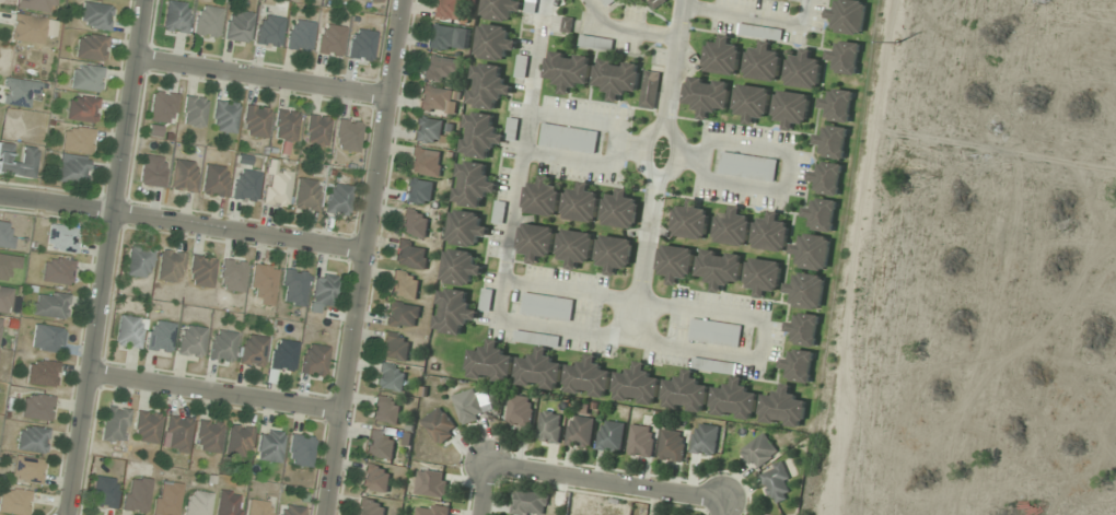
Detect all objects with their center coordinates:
building: (112, 0)
building: (373, 0)
building: (607, 2)
building: (36, 4)
building: (531, 5)
building: (501, 9)
building: (447, 10)
road: (752, 15)
building: (94, 16)
building: (849, 16)
building: (175, 17)
building: (206, 22)
building: (236, 26)
building: (31, 28)
road: (626, 28)
building: (267, 31)
building: (299, 36)
building: (446, 38)
building: (329, 40)
building: (495, 42)
building: (596, 43)
building: (360, 45)
building: (90, 47)
building: (763, 52)
building: (722, 57)
building: (846, 57)
road: (672, 63)
building: (522, 67)
building: (440, 69)
building: (569, 70)
building: (804, 70)
road: (259, 77)
building: (85, 78)
building: (617, 78)
building: (489, 85)
building: (651, 89)
building: (708, 95)
building: (434, 100)
building: (752, 102)
building: (838, 105)
building: (161, 107)
building: (791, 108)
building: (80, 109)
building: (193, 112)
building: (223, 117)
building: (254, 121)
building: (283, 126)
building: (427, 130)
building: (315, 131)
building: (486, 134)
building: (346, 136)
building: (569, 138)
building: (77, 140)
building: (833, 142)
road: (619, 147)
road: (633, 147)
road: (682, 154)
road: (523, 157)
building: (16, 162)
building: (425, 162)
building: (747, 166)
building: (71, 169)
building: (151, 172)
road: (788, 173)
building: (183, 176)
building: (827, 178)
road: (655, 179)
building: (212, 180)
building: (473, 184)
building: (244, 186)
building: (275, 187)
building: (418, 191)
building: (305, 196)
building: (543, 198)
building: (336, 200)
building: (582, 204)
building: (620, 210)
building: (500, 212)
building: (822, 214)
building: (690, 221)
road: (182, 222)
building: (414, 223)
building: (466, 227)
building: (733, 227)
building: (771, 233)
building: (5, 235)
building: (60, 238)
building: (537, 241)
building: (576, 246)
building: (813, 250)
building: (615, 253)
building: (410, 255)
road: (103, 257)
road: (361, 257)
road: (642, 258)
building: (138, 261)
building: (676, 261)
building: (168, 267)
building: (460, 267)
building: (720, 268)
building: (56, 271)
building: (199, 271)
building: (230, 276)
building: (764, 276)
building: (404, 284)
building: (261, 285)
building: (292, 288)
building: (806, 290)
building: (322, 292)
building: (486, 300)
building: (8, 301)
building: (48, 305)
building: (547, 306)
building: (454, 312)
building: (402, 315)
building: (804, 328)
building: (128, 332)
building: (714, 332)
building: (159, 337)
building: (46, 338)
road: (764, 338)
building: (189, 341)
building: (220, 346)
building: (395, 347)
building: (251, 351)
building: (281, 355)
building: (312, 360)
building: (490, 362)
building: (538, 362)
building: (799, 365)
building: (40, 373)
building: (390, 377)
building: (589, 377)
building: (637, 384)
building: (693, 385)
road: (212, 390)
building: (734, 399)
building: (473, 405)
building: (36, 407)
building: (783, 407)
building: (385, 409)
building: (521, 410)
building: (114, 424)
building: (440, 424)
building: (144, 426)
building: (550, 426)
building: (581, 431)
building: (175, 434)
building: (612, 435)
building: (207, 436)
building: (706, 438)
building: (31, 440)
building: (642, 440)
building: (237, 441)
building: (380, 444)
building: (673, 444)
building: (268, 446)
building: (299, 450)
building: (760, 450)
building: (26, 470)
building: (374, 477)
building: (432, 482)
road: (605, 482)
building: (778, 483)
road: (483, 490)
building: (103, 492)
building: (135, 494)
building: (165, 495)
building: (13, 502)
building: (196, 503)
building: (228, 503)
building: (530, 503)
building: (257, 507)
building: (370, 507)
road: (722, 507)
building: (289, 510)
building: (431, 510)

